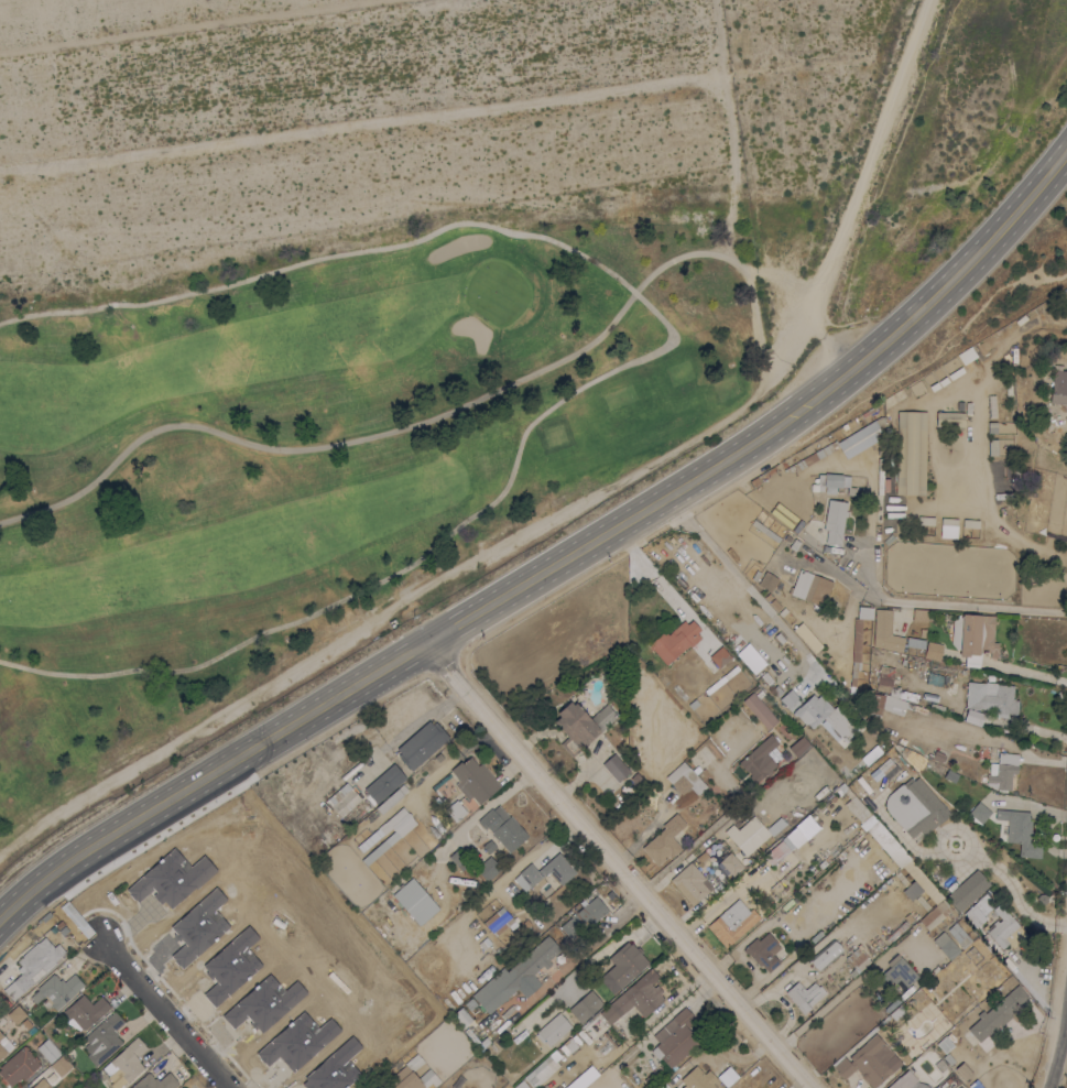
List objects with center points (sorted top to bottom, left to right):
dam: (600, 95)
road: (729, 129)
park: (174, 181)
dam: (227, 214)
park: (678, 222)
park: (496, 292)
road: (751, 314)
road: (642, 357)
building: (958, 365)
park: (676, 379)
building: (1057, 387)
park: (721, 391)
park: (623, 394)
park: (288, 409)
building: (949, 417)
road: (374, 434)
road: (1055, 434)
park: (554, 435)
building: (843, 444)
building: (911, 453)
building: (776, 469)
building: (762, 478)
building: (832, 483)
road: (562, 514)
building: (926, 520)
road: (993, 520)
building: (835, 521)
building: (949, 522)
building: (970, 523)
building: (765, 530)
building: (794, 544)
road: (556, 566)
building: (755, 575)
building: (767, 580)
road: (745, 586)
building: (810, 586)
building: (767, 597)
road: (944, 602)
building: (774, 603)
building: (836, 606)
building: (783, 611)
building: (864, 612)
building: (919, 616)
building: (885, 631)
building: (738, 633)
building: (807, 637)
building: (973, 637)
building: (675, 640)
building: (915, 642)
building: (792, 650)
building: (856, 650)
building: (933, 651)
building: (718, 657)
building: (734, 668)
road: (1025, 672)
building: (890, 695)
building: (788, 697)
building: (991, 697)
building: (693, 704)
building: (936, 706)
building: (760, 710)
building: (826, 716)
building: (973, 717)
building: (580, 725)
road: (980, 738)
building: (902, 740)
building: (421, 743)
building: (798, 746)
building: (831, 750)
building: (937, 755)
building: (759, 759)
building: (614, 766)
building: (890, 768)
building: (1002, 771)
building: (950, 775)
building: (636, 779)
building: (685, 779)
building: (473, 780)
building: (383, 783)
building: (841, 786)
building: (342, 798)
building: (391, 798)
building: (914, 807)
building: (456, 810)
building: (978, 813)
building: (503, 827)
road: (957, 829)
building: (877, 830)
building: (753, 833)
building: (1021, 833)
building: (362, 838)
road: (902, 838)
building: (664, 840)
building: (381, 842)
building: (489, 846)
building: (784, 846)
road: (685, 849)
building: (457, 859)
building: (731, 863)
road: (622, 864)
building: (488, 868)
building: (545, 872)
road: (962, 875)
building: (918, 881)
building: (692, 883)
building: (967, 889)
building: (912, 890)
road: (1016, 893)
building: (415, 901)
building: (923, 902)
building: (979, 906)
building: (935, 914)
building: (493, 915)
building: (583, 917)
building: (732, 923)
building: (1003, 927)
building: (959, 935)
building: (946, 945)
building: (763, 950)
road: (584, 953)
building: (826, 955)
building: (857, 960)
building: (625, 962)
building: (34, 965)
building: (897, 971)
building: (516, 976)
building: (57, 990)
building: (642, 992)
road: (1034, 993)
building: (804, 994)
building: (470, 1003)
building: (585, 1005)
building: (84, 1011)
building: (997, 1013)
building: (15, 1014)
road: (160, 1016)
building: (26, 1022)
building: (553, 1029)
building: (675, 1037)
building: (104, 1038)
building: (477, 1038)
building: (924, 1044)
building: (2, 1046)
building: (569, 1046)
building: (47, 1051)
road: (1060, 1056)
building: (870, 1060)
building: (127, 1063)
building: (18, 1066)
building: (61, 1066)
building: (541, 1070)
building: (963, 1070)
building: (411, 1075)
building: (726, 1076)
building: (52, 1077)
building: (698, 1078)
building: (155, 1081)
building: (906, 1081)
building: (41, 1084)
building: (522, 1085)
building: (182, 1087)

